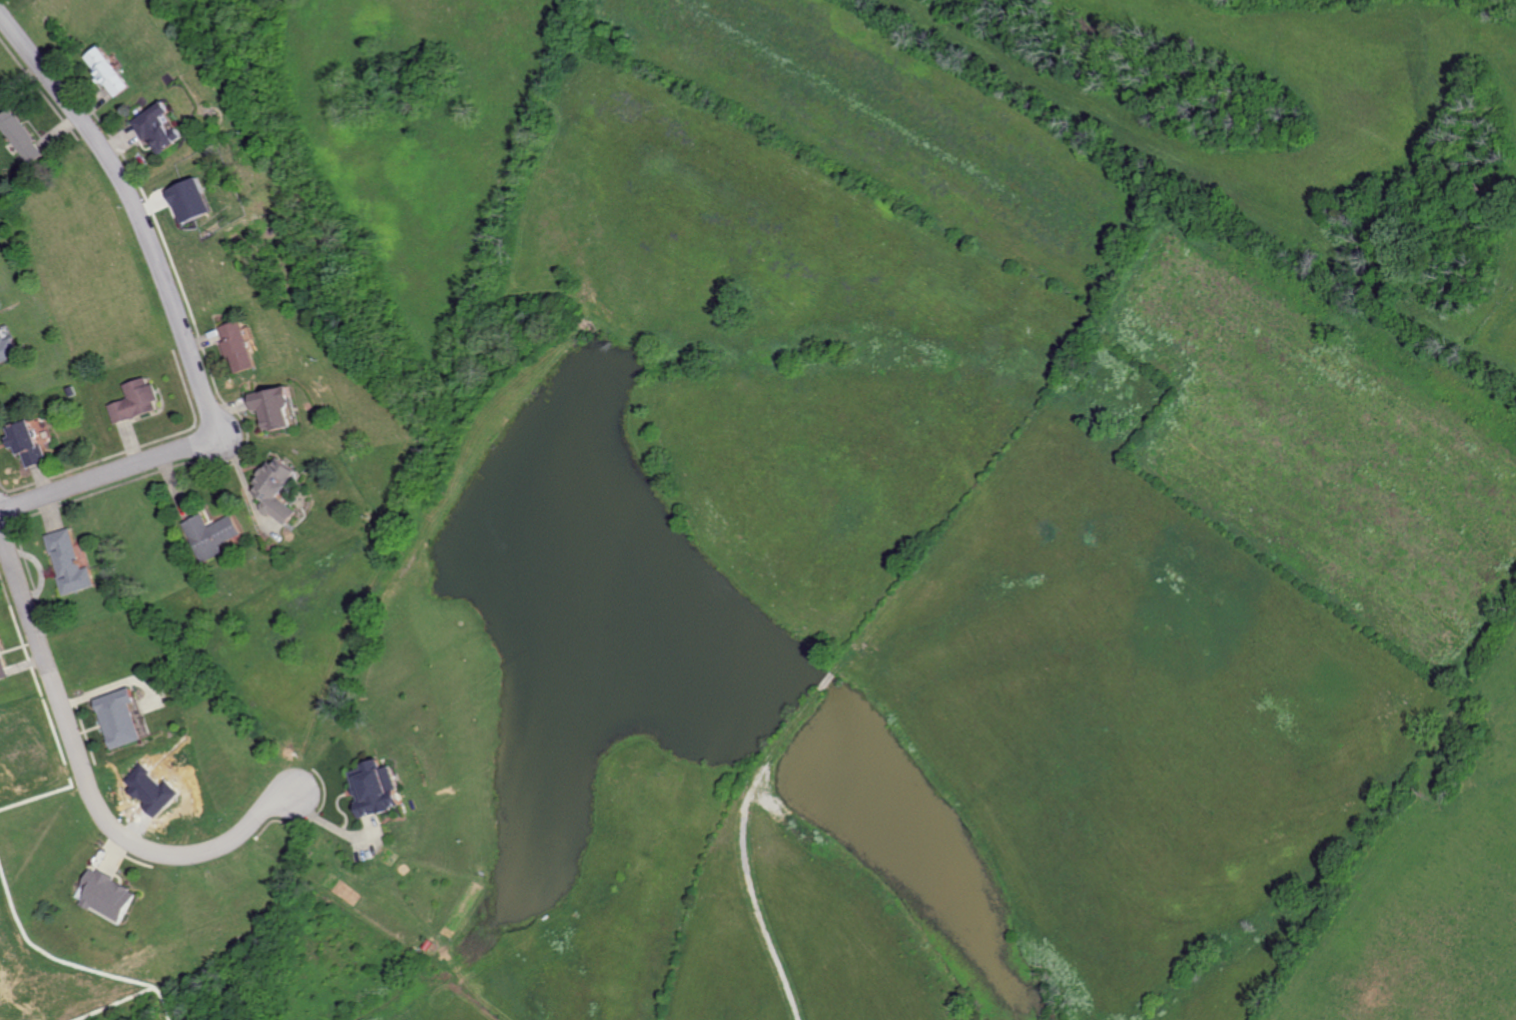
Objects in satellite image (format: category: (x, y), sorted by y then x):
building: (109, 70)
building: (160, 127)
building: (21, 135)
building: (193, 199)
road: (141, 208)
building: (240, 345)
building: (8, 348)
building: (136, 400)
building: (276, 406)
building: (26, 441)
road: (112, 476)
building: (277, 489)
building: (212, 534)
building: (69, 562)
building: (2, 666)
building: (118, 717)
road: (84, 786)
building: (376, 788)
building: (107, 895)

